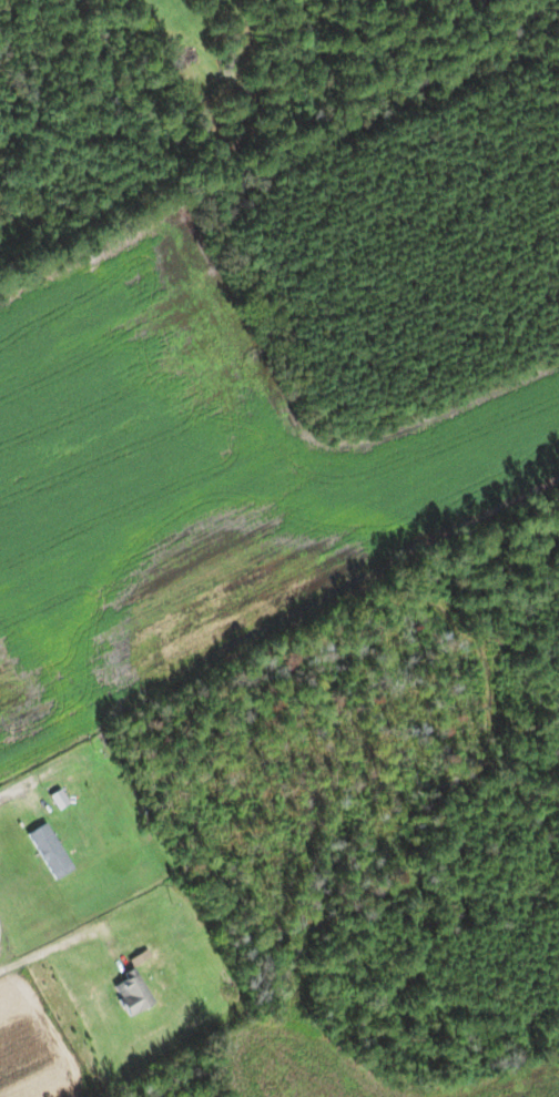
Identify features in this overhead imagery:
road: (19, 781)
building: (131, 994)

